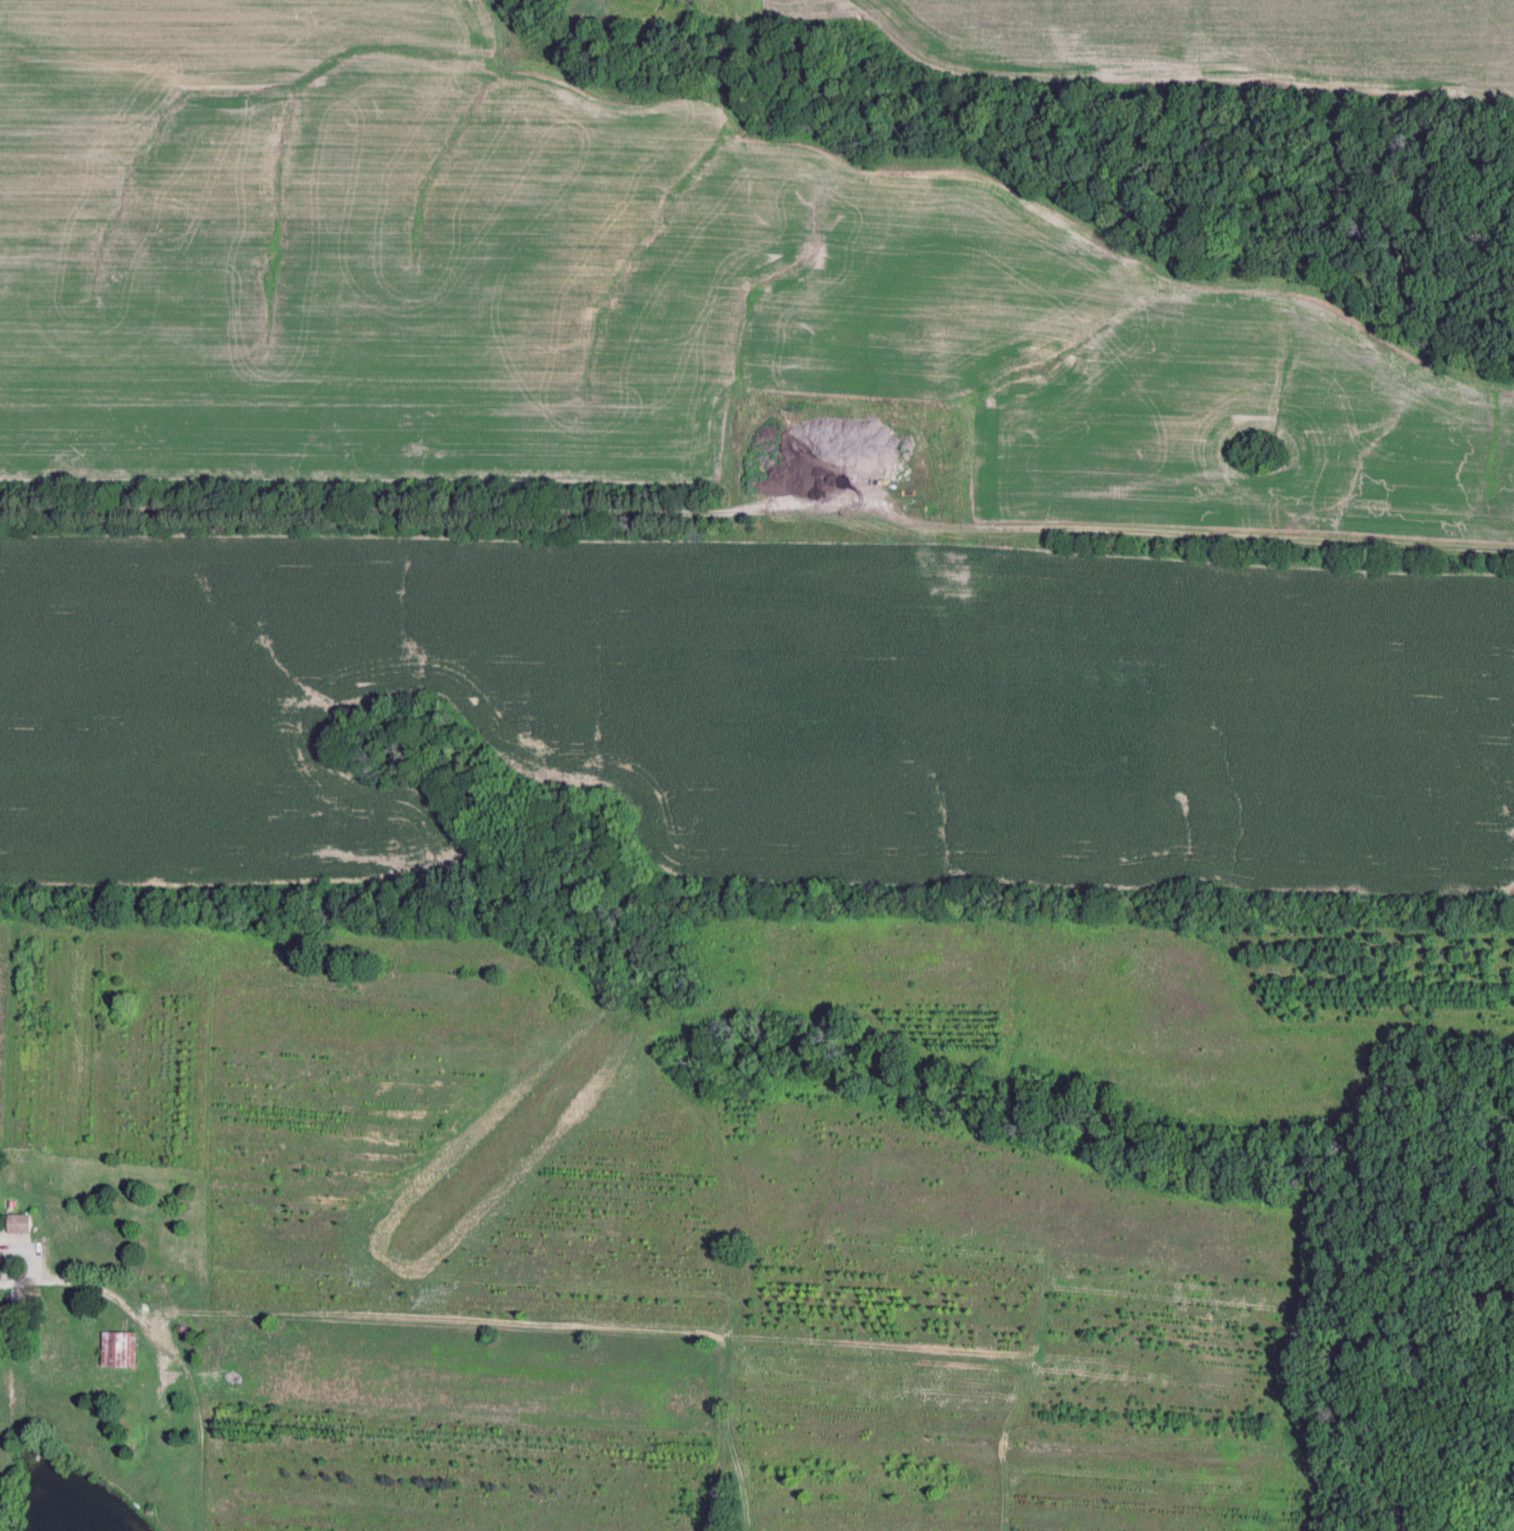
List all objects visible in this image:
building: (19, 1226)
road: (2, 1269)
road: (93, 1293)
building: (119, 1353)

